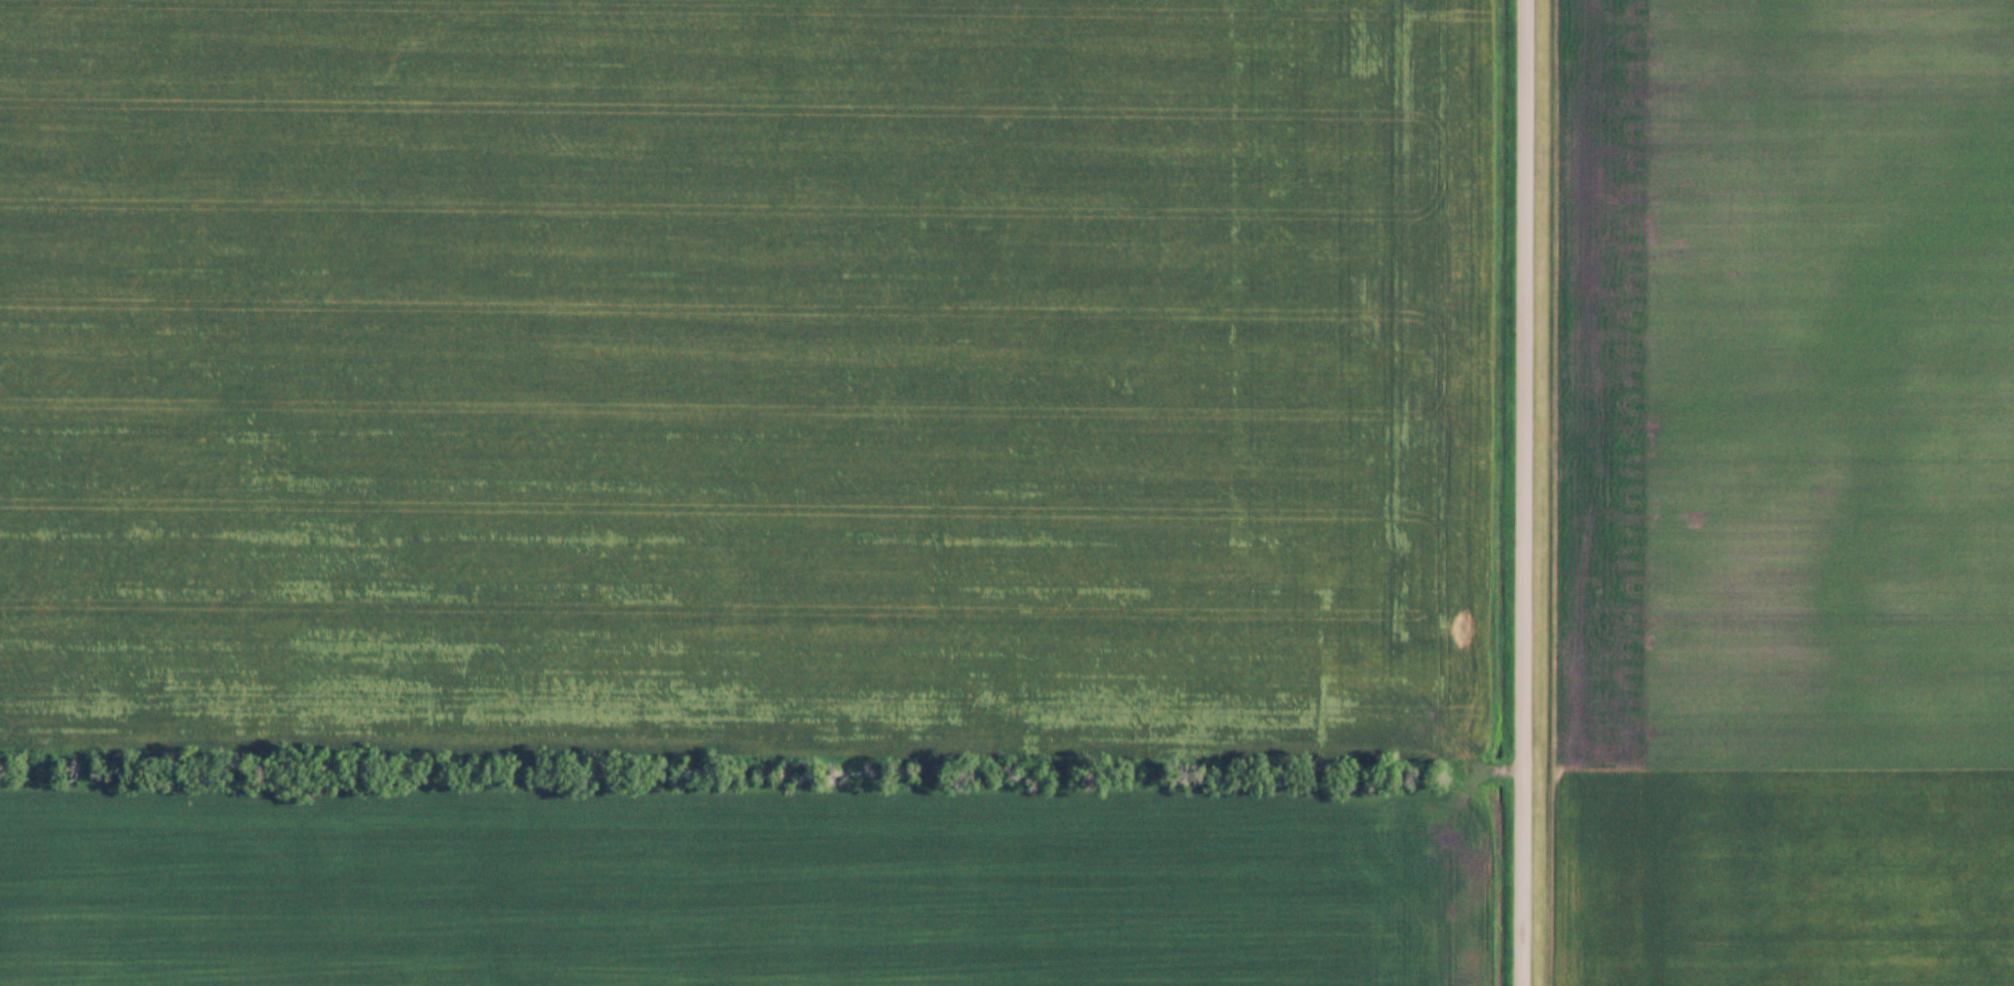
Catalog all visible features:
road: (1528, 493)

